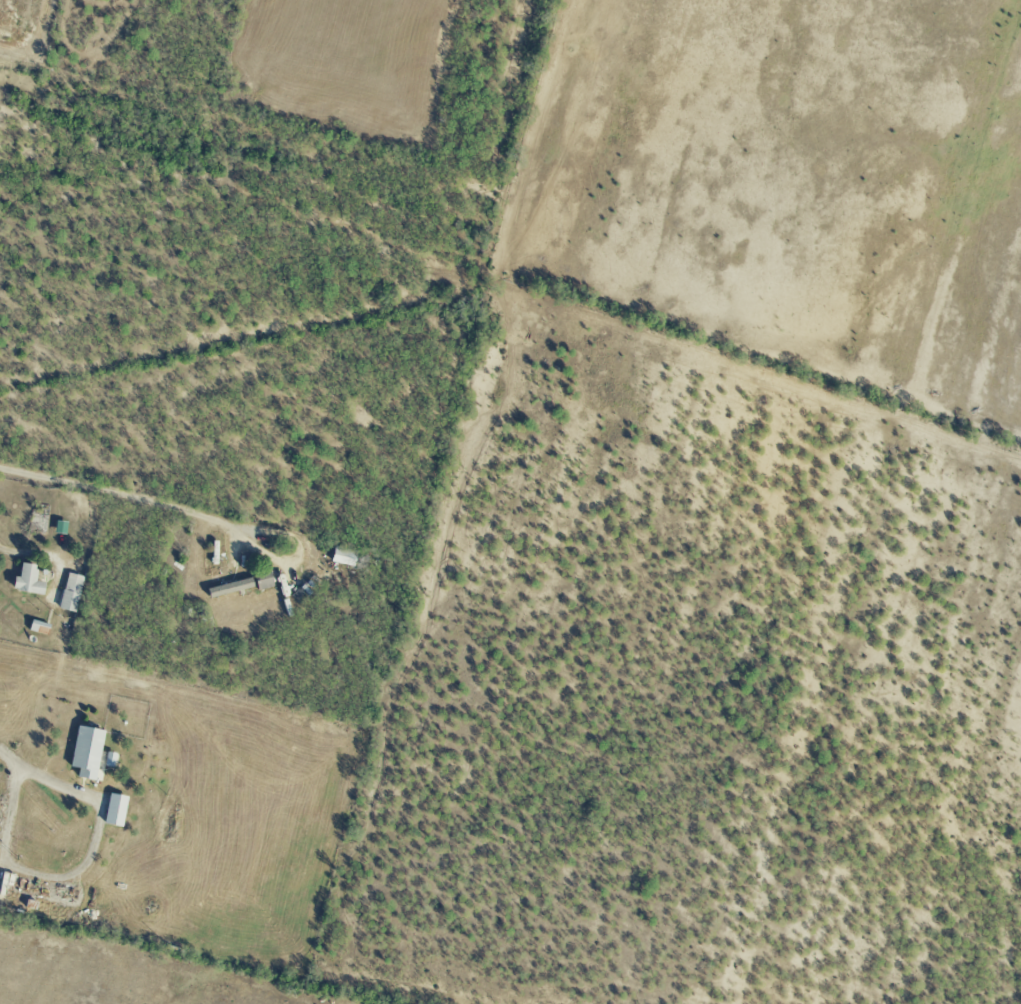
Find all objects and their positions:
road: (117, 495)
road: (7, 548)
building: (343, 556)
building: (263, 579)
building: (27, 581)
building: (230, 588)
building: (70, 593)
building: (86, 753)
road: (40, 775)
building: (114, 810)

